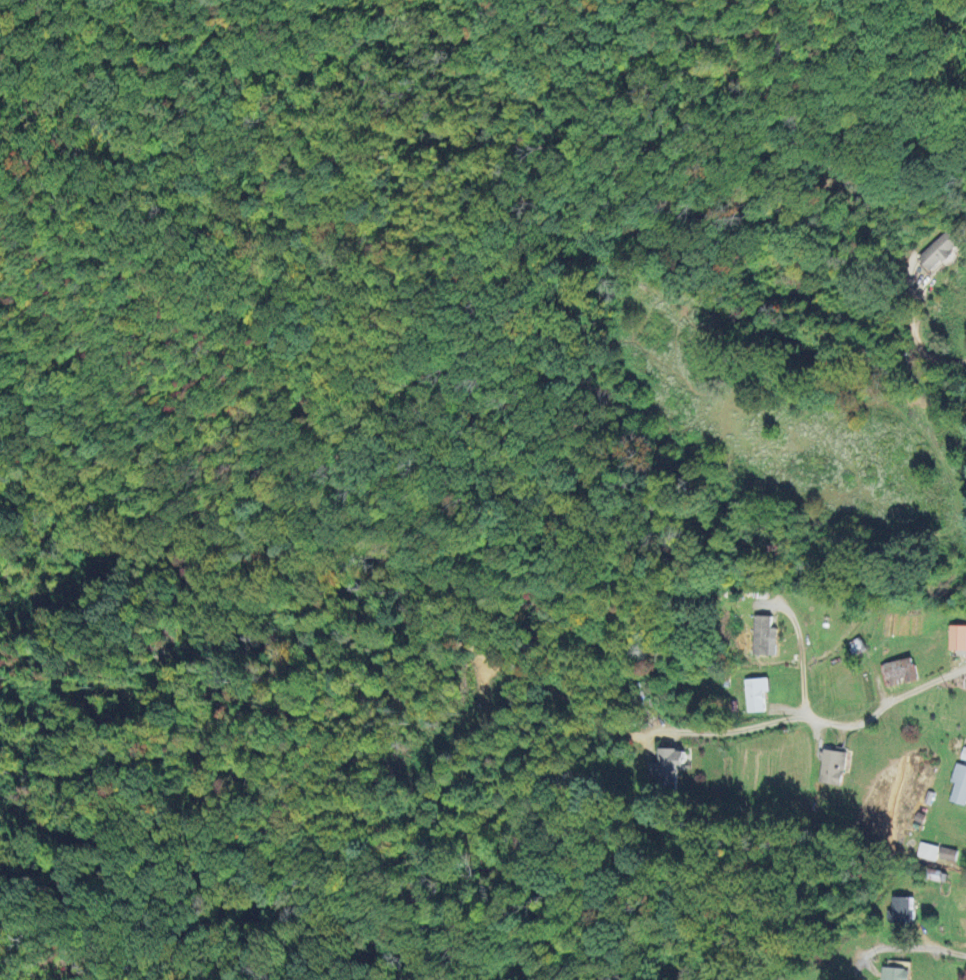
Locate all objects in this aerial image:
building: (939, 250)
road: (904, 377)
road: (789, 610)
building: (764, 636)
building: (957, 637)
building: (899, 671)
road: (802, 676)
building: (754, 694)
road: (877, 708)
road: (726, 731)
building: (963, 753)
building: (667, 766)
building: (831, 767)
building: (958, 784)
building: (927, 851)
building: (947, 854)
building: (901, 910)
road: (906, 944)
building: (894, 974)

